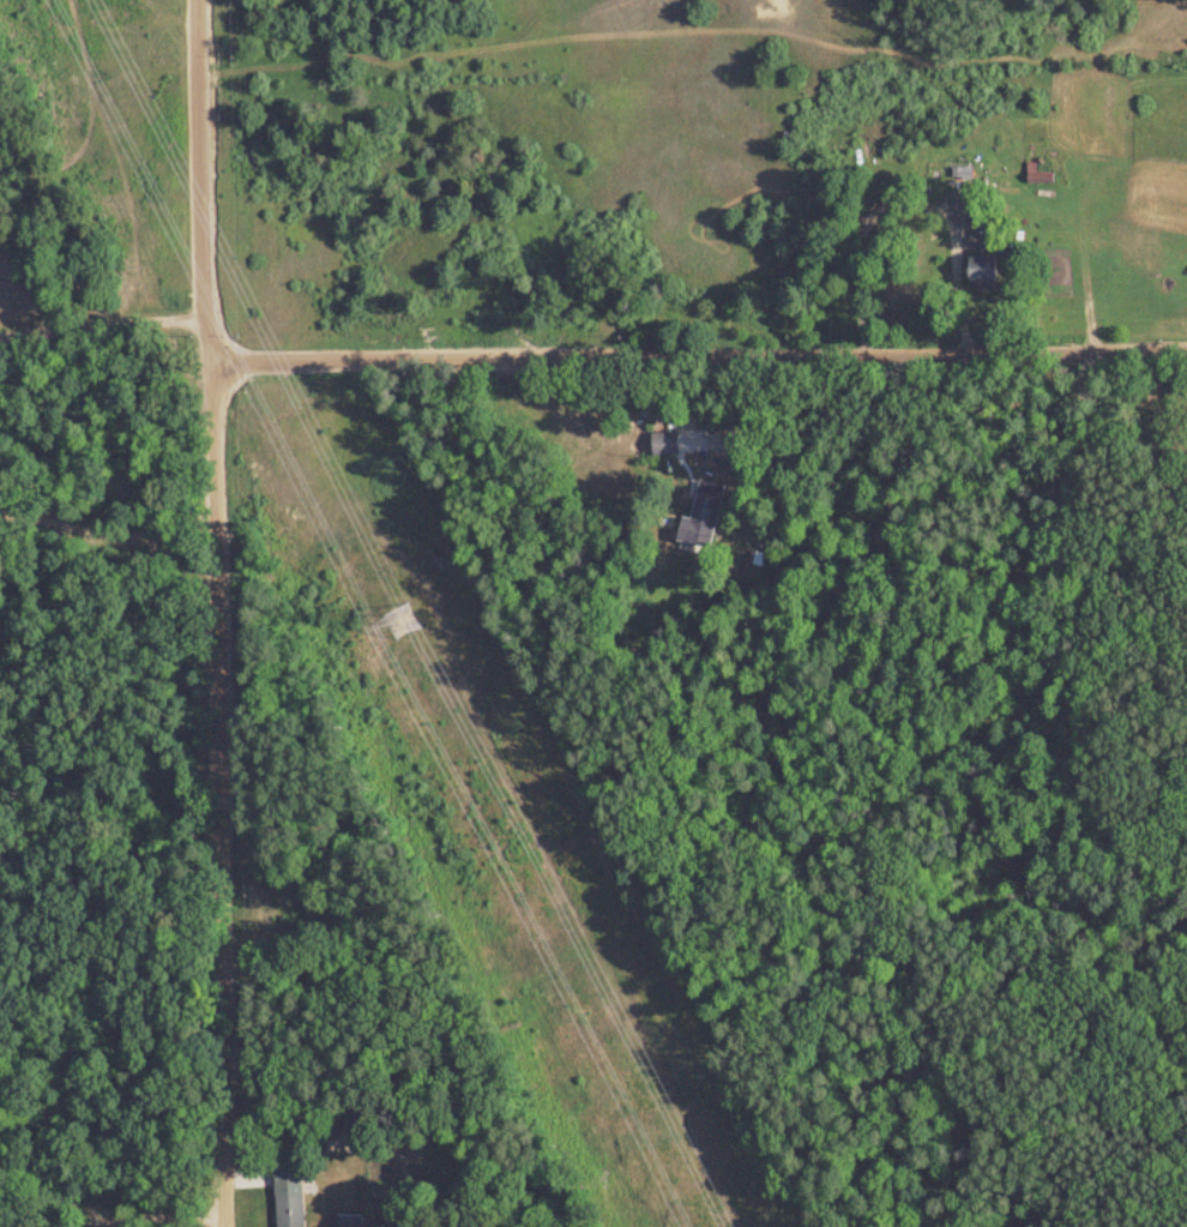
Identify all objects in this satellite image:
road: (97, 186)
building: (978, 276)
road: (104, 323)
road: (698, 348)
building: (661, 445)
road: (108, 457)
building: (700, 515)
road: (110, 524)
road: (223, 613)
power tower: (399, 619)
building: (288, 1209)
road: (175, 1211)

